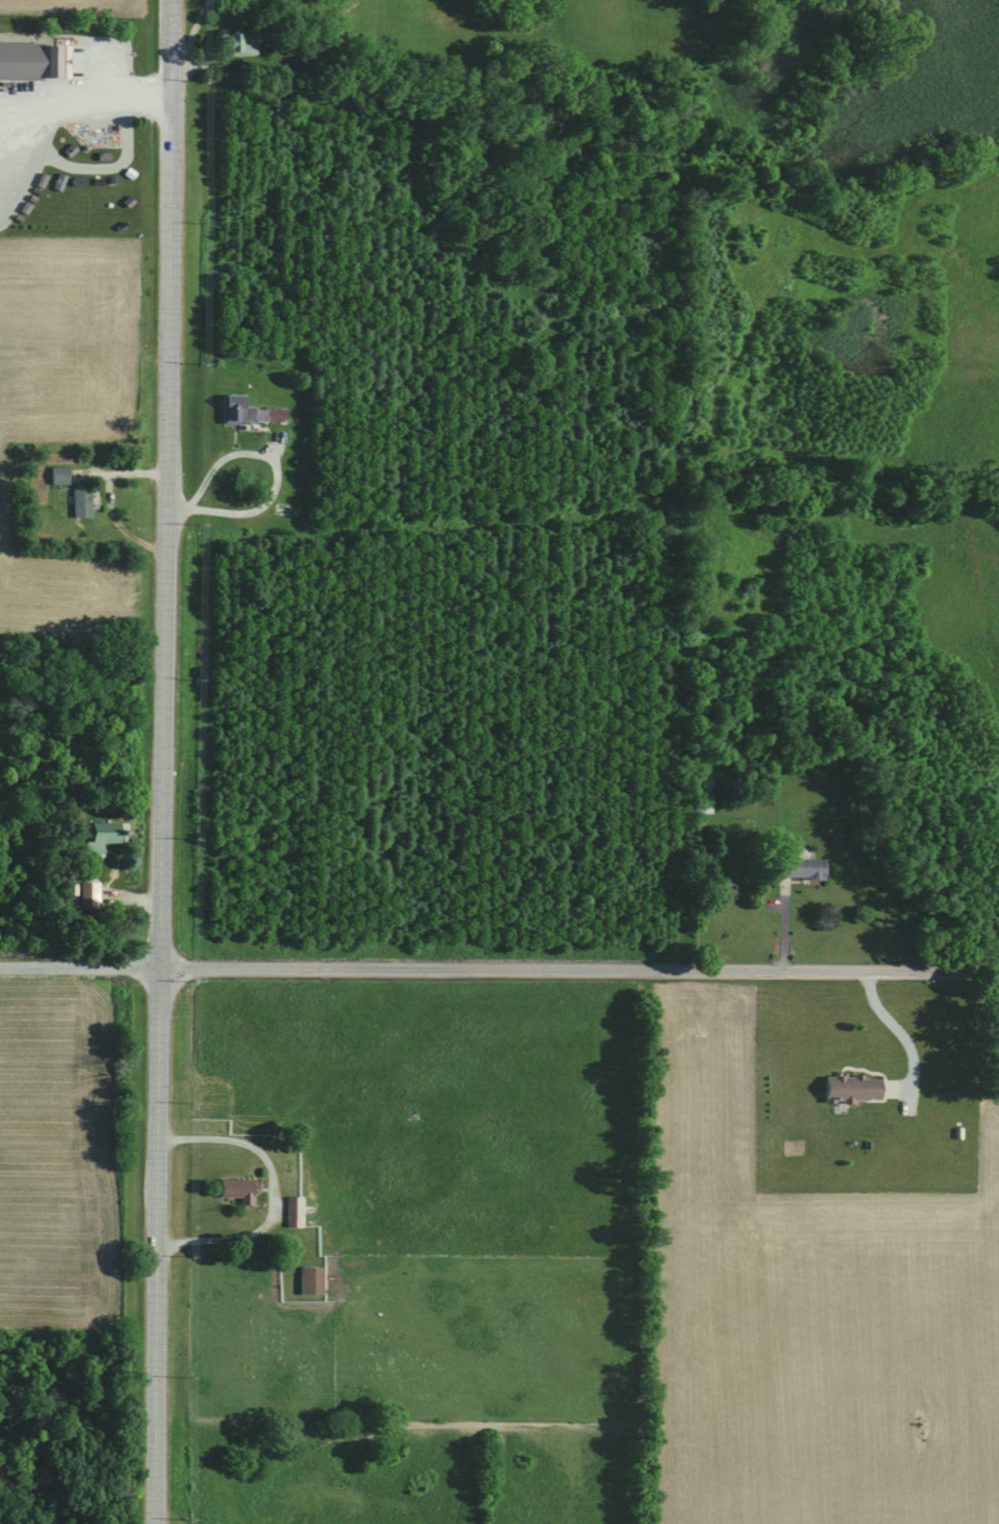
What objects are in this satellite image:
building: (239, 44)
building: (48, 62)
road: (84, 104)
building: (252, 413)
road: (257, 459)
building: (61, 475)
building: (83, 503)
road: (175, 513)
road: (159, 761)
building: (103, 837)
building: (803, 869)
building: (90, 896)
road: (499, 974)
road: (904, 1035)
building: (855, 1088)
building: (239, 1189)
road: (274, 1191)
building: (296, 1212)

